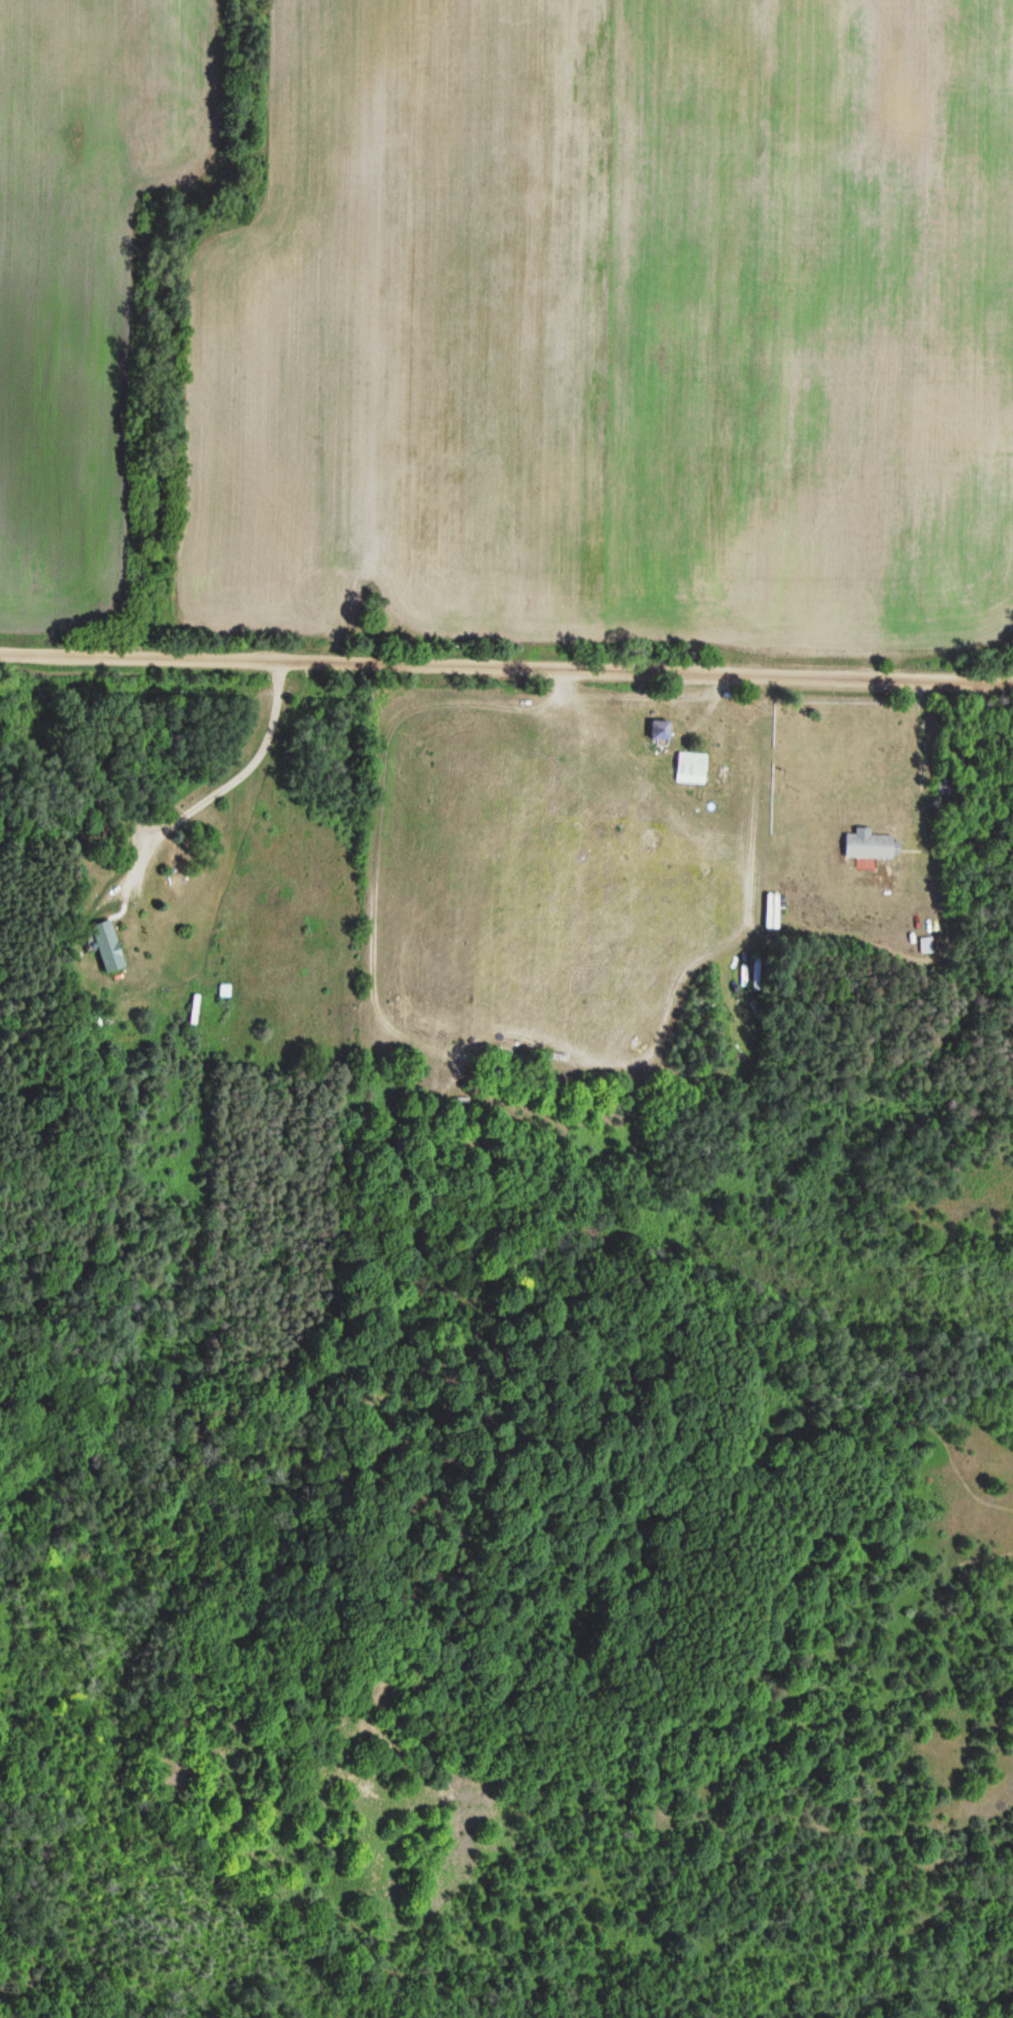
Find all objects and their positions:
road: (506, 651)
building: (659, 731)
building: (690, 768)
building: (866, 846)
building: (770, 911)
building: (924, 945)
building: (106, 946)

